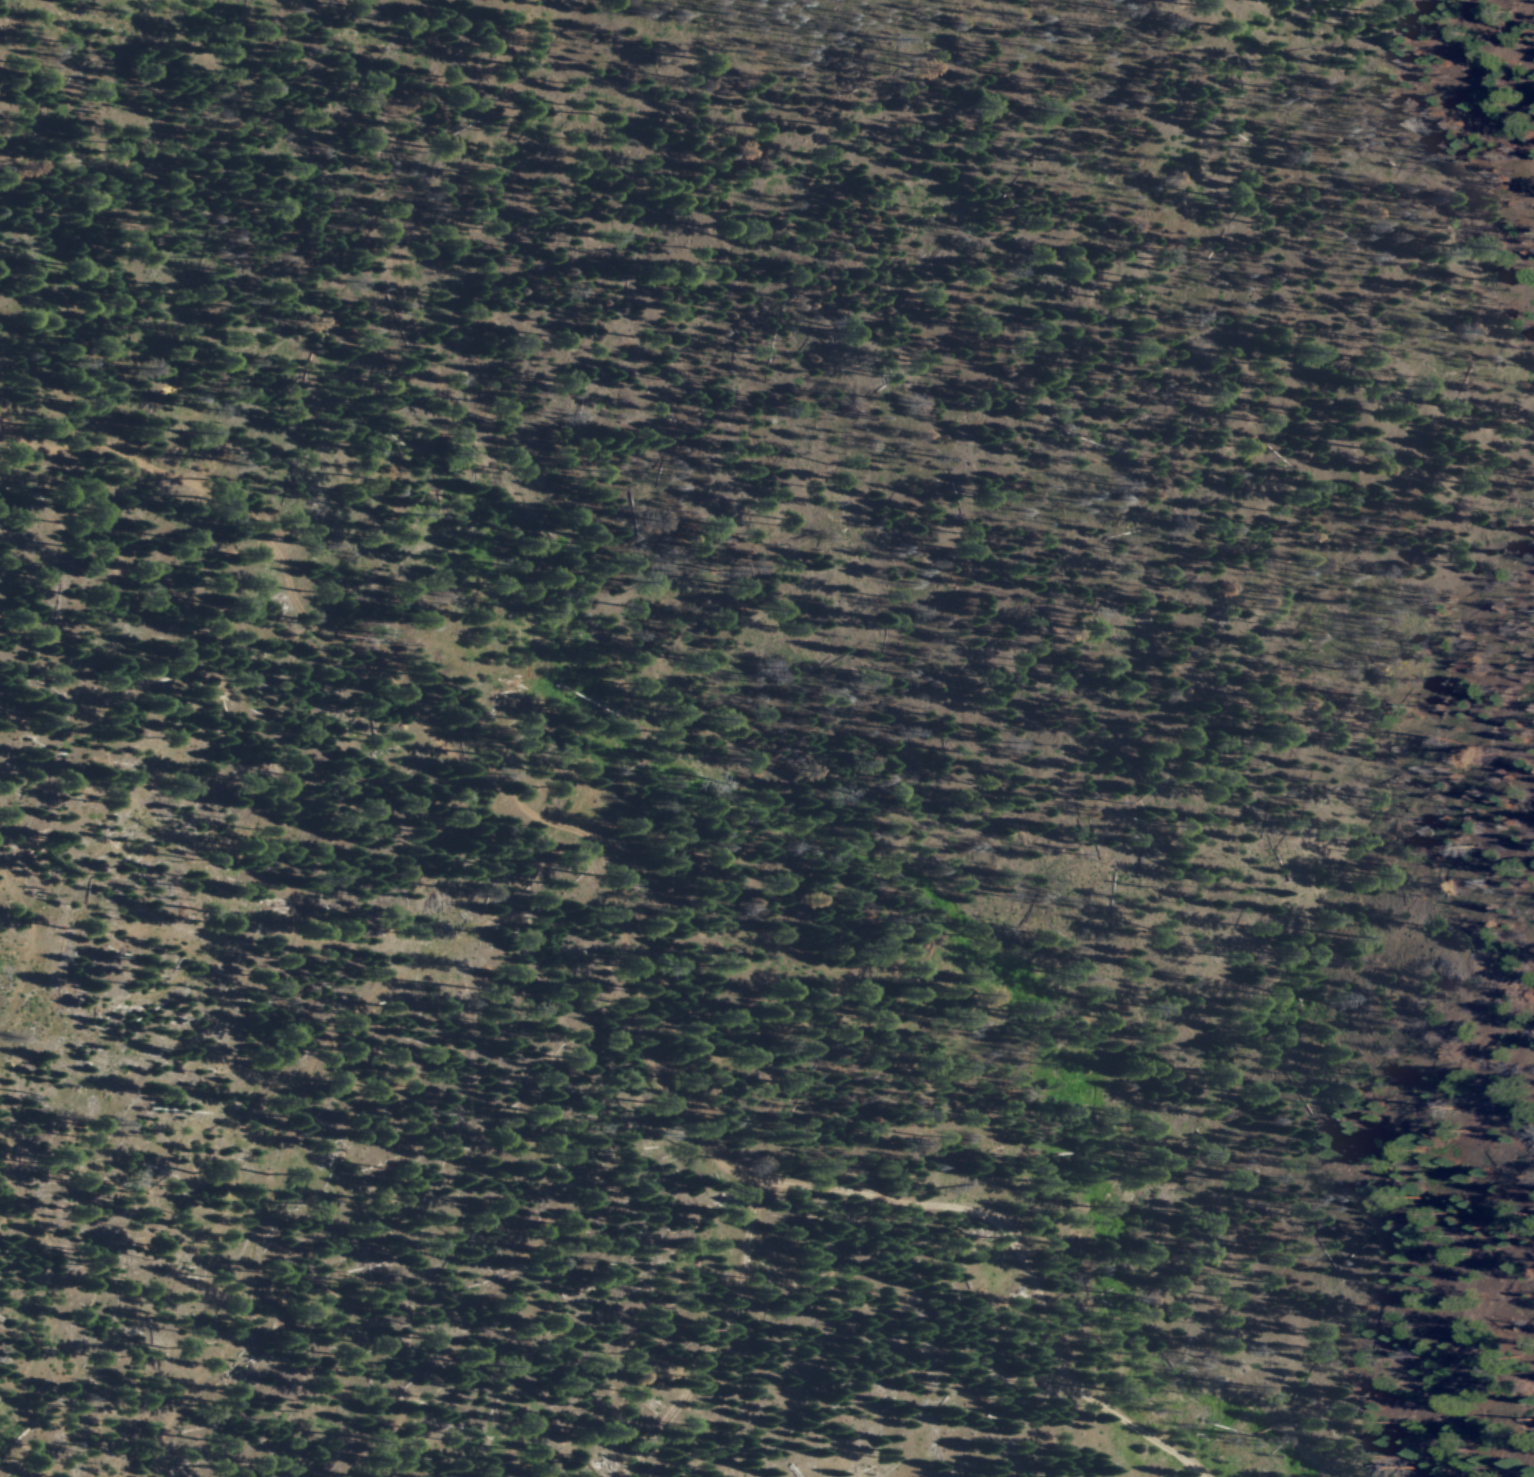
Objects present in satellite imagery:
road: (17, 110)
road: (695, 920)
road: (648, 1049)
road: (1041, 1315)

